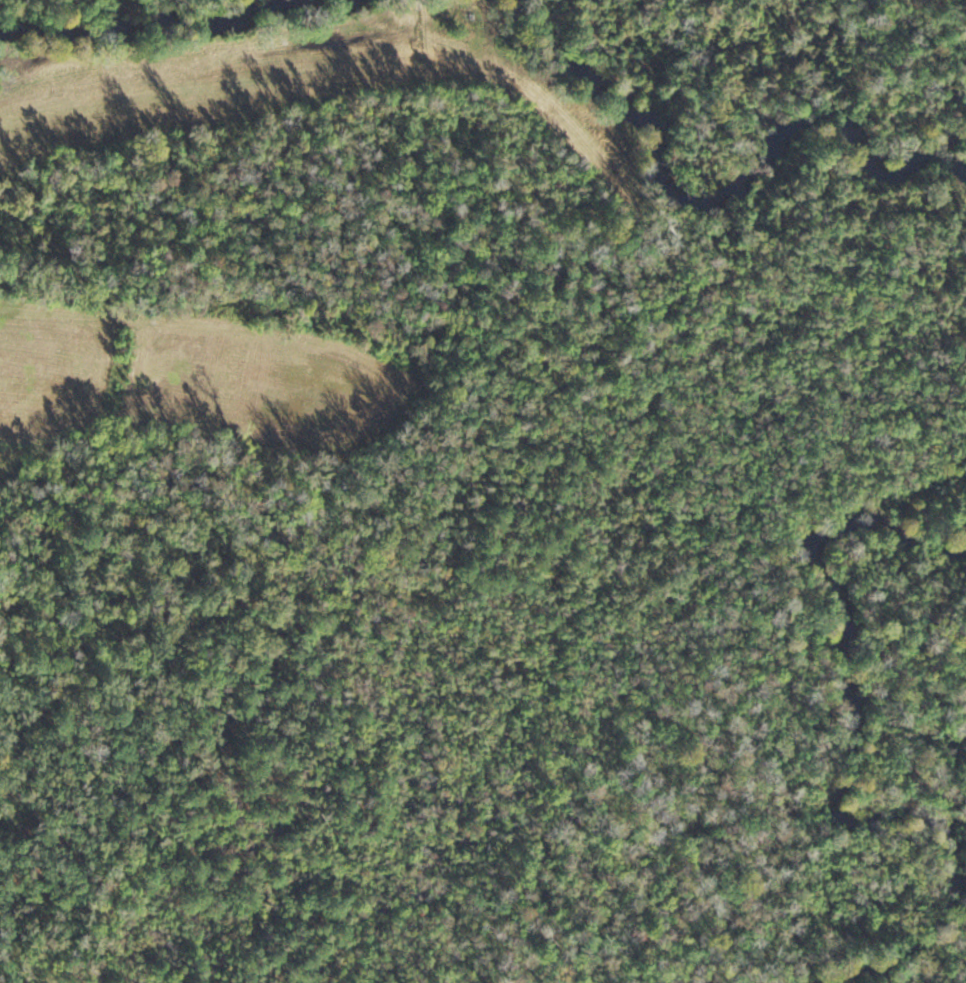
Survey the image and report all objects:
river: (148, 21)
river: (835, 359)

